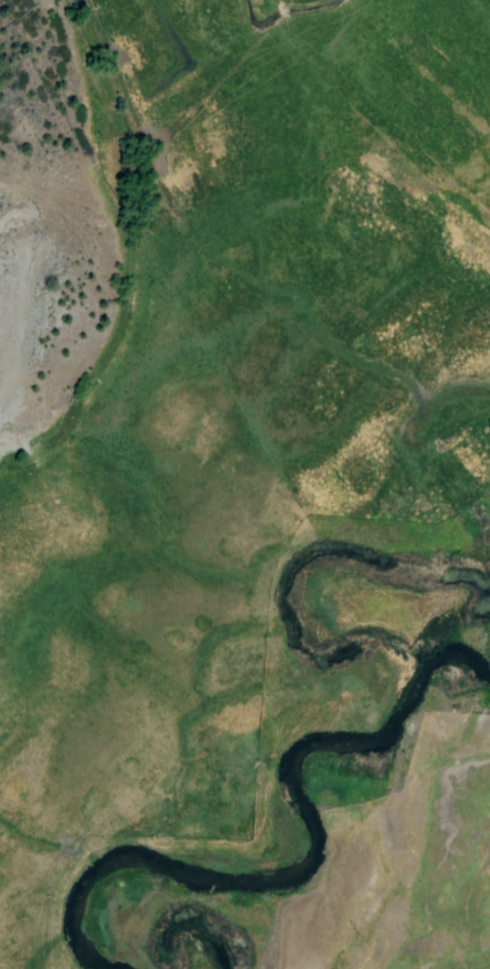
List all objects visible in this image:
river: (422, 667)
river: (458, 667)
river: (377, 740)
river: (207, 884)

